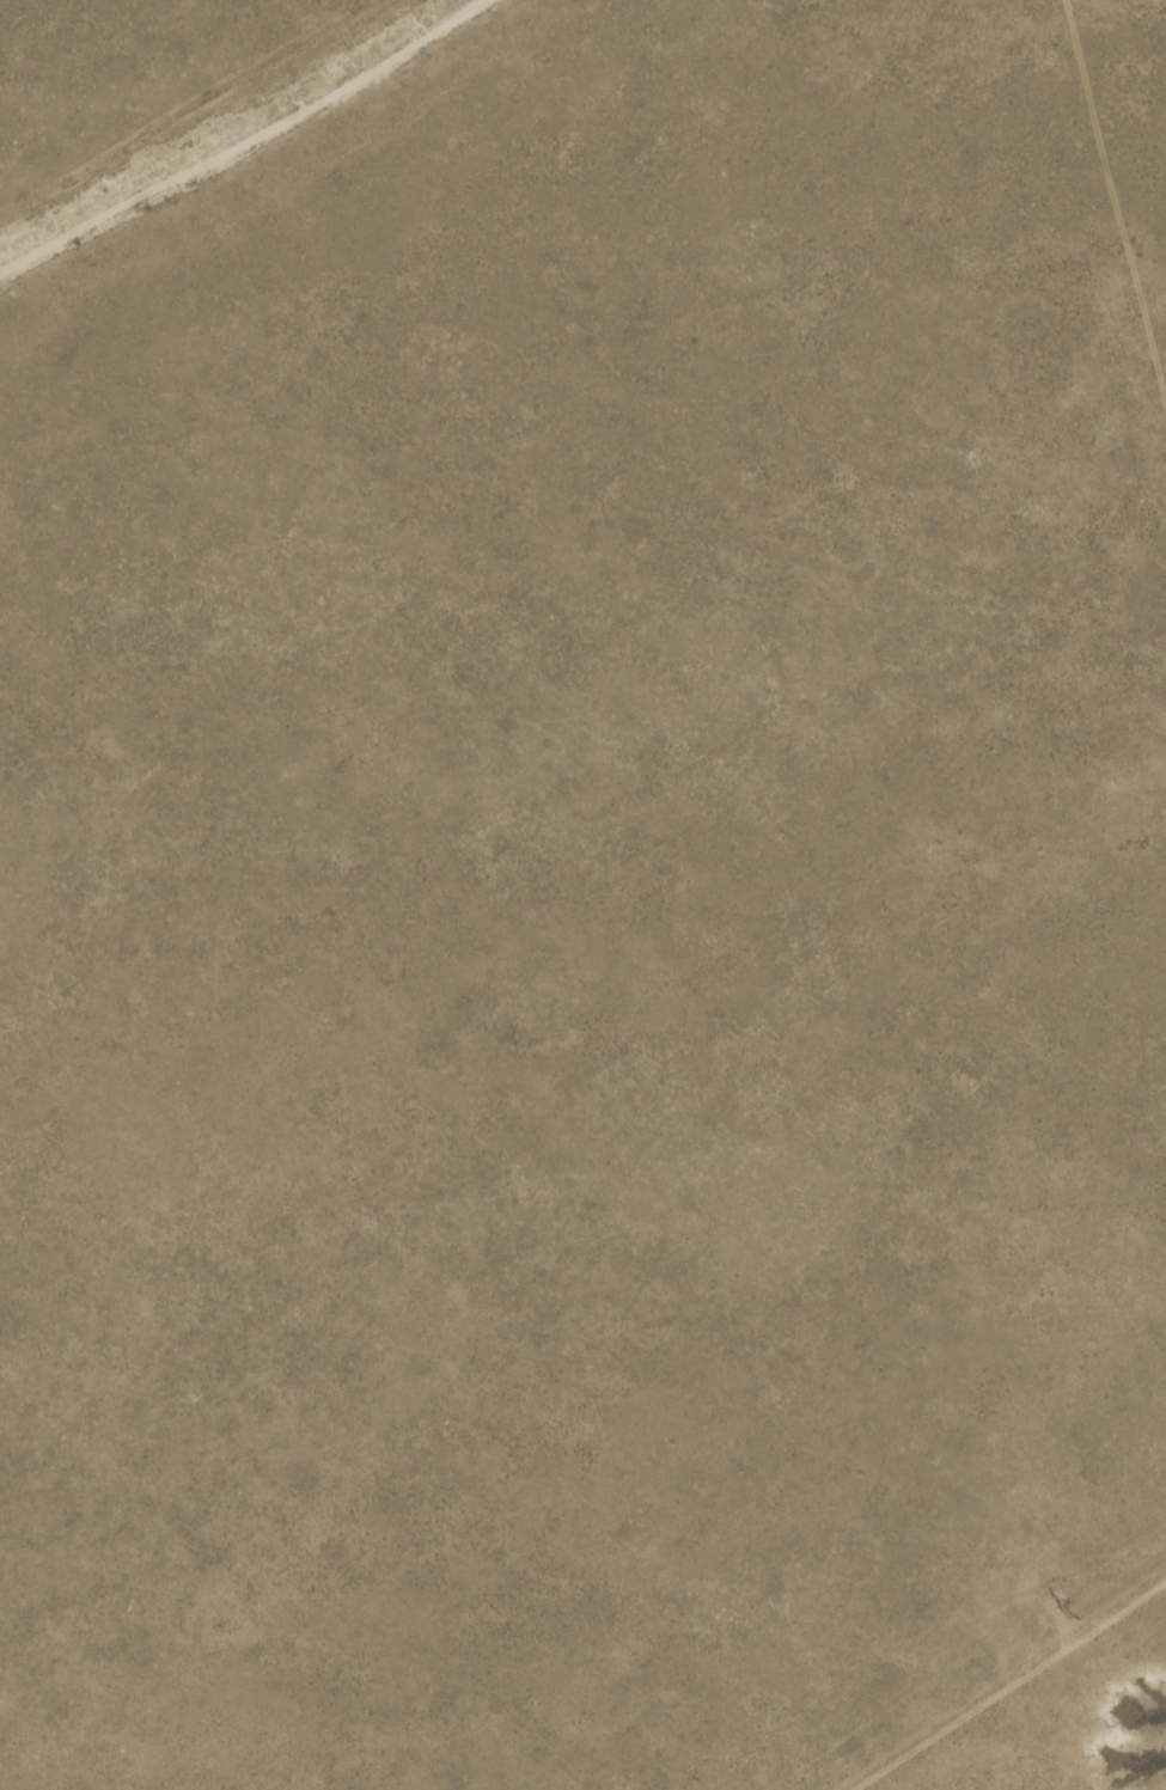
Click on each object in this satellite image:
road: (240, 139)
power tower: (1080, 1605)

